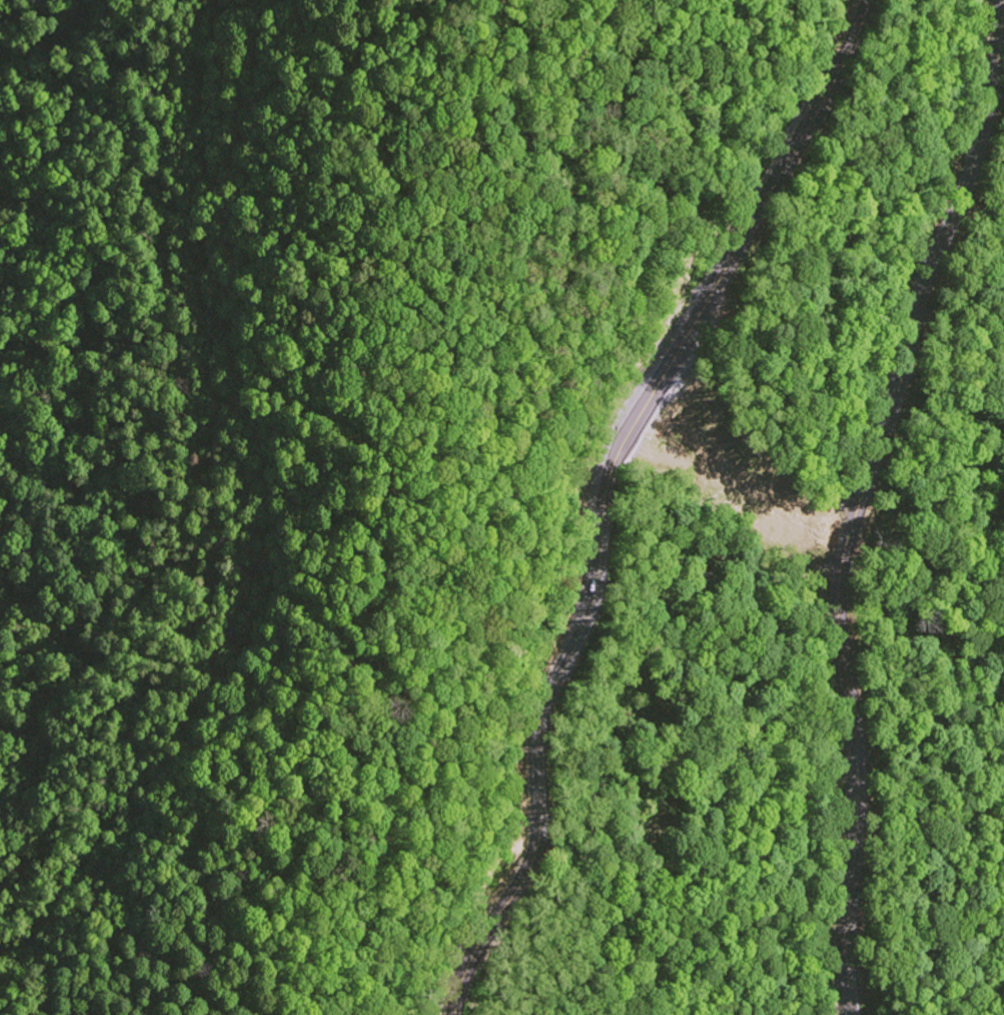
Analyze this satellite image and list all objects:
road: (609, 488)
road: (861, 498)

